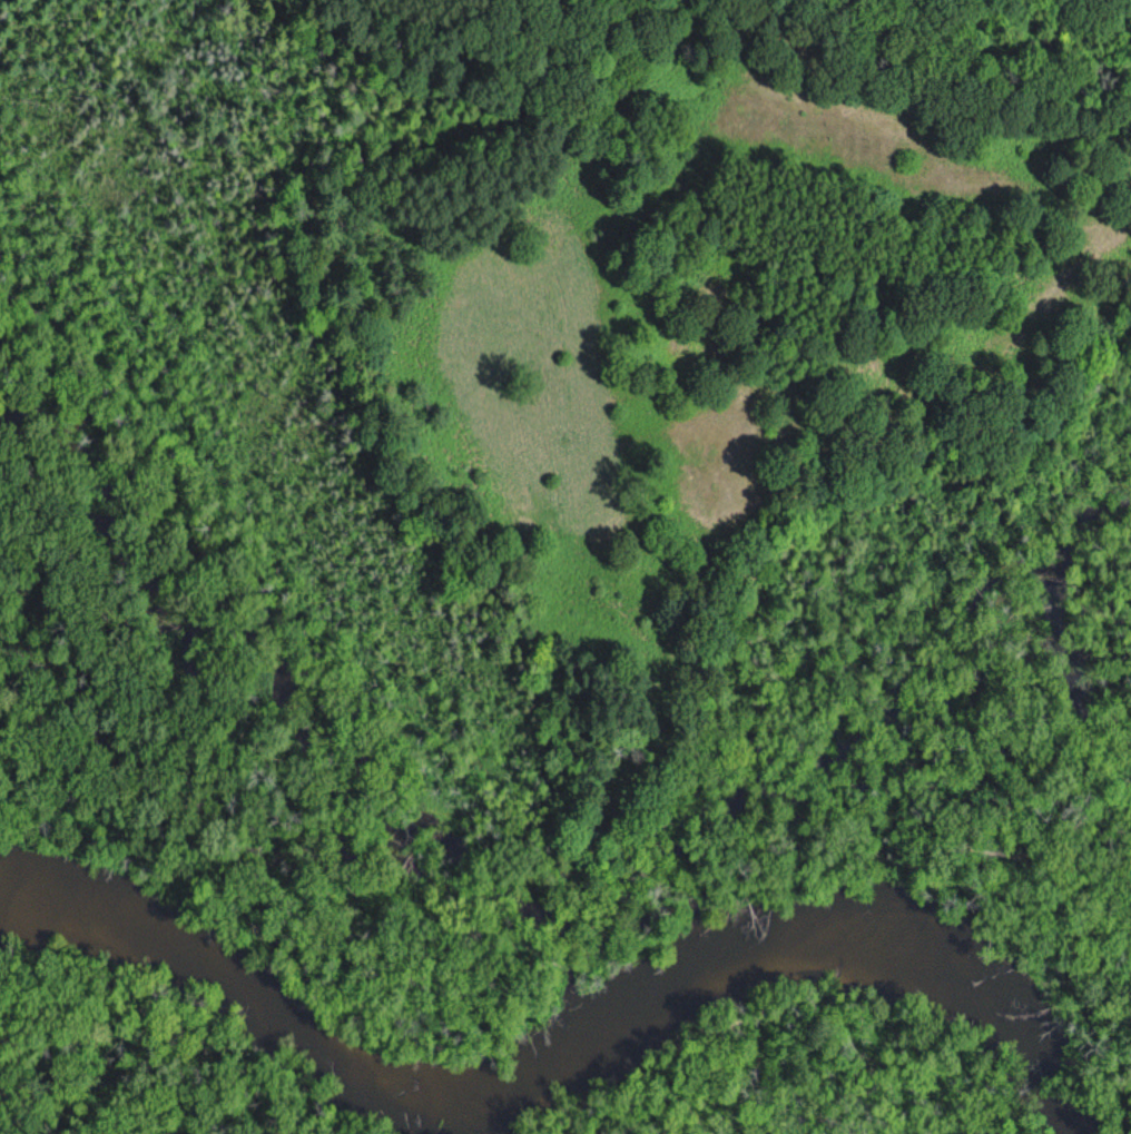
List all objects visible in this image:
river: (562, 1067)

